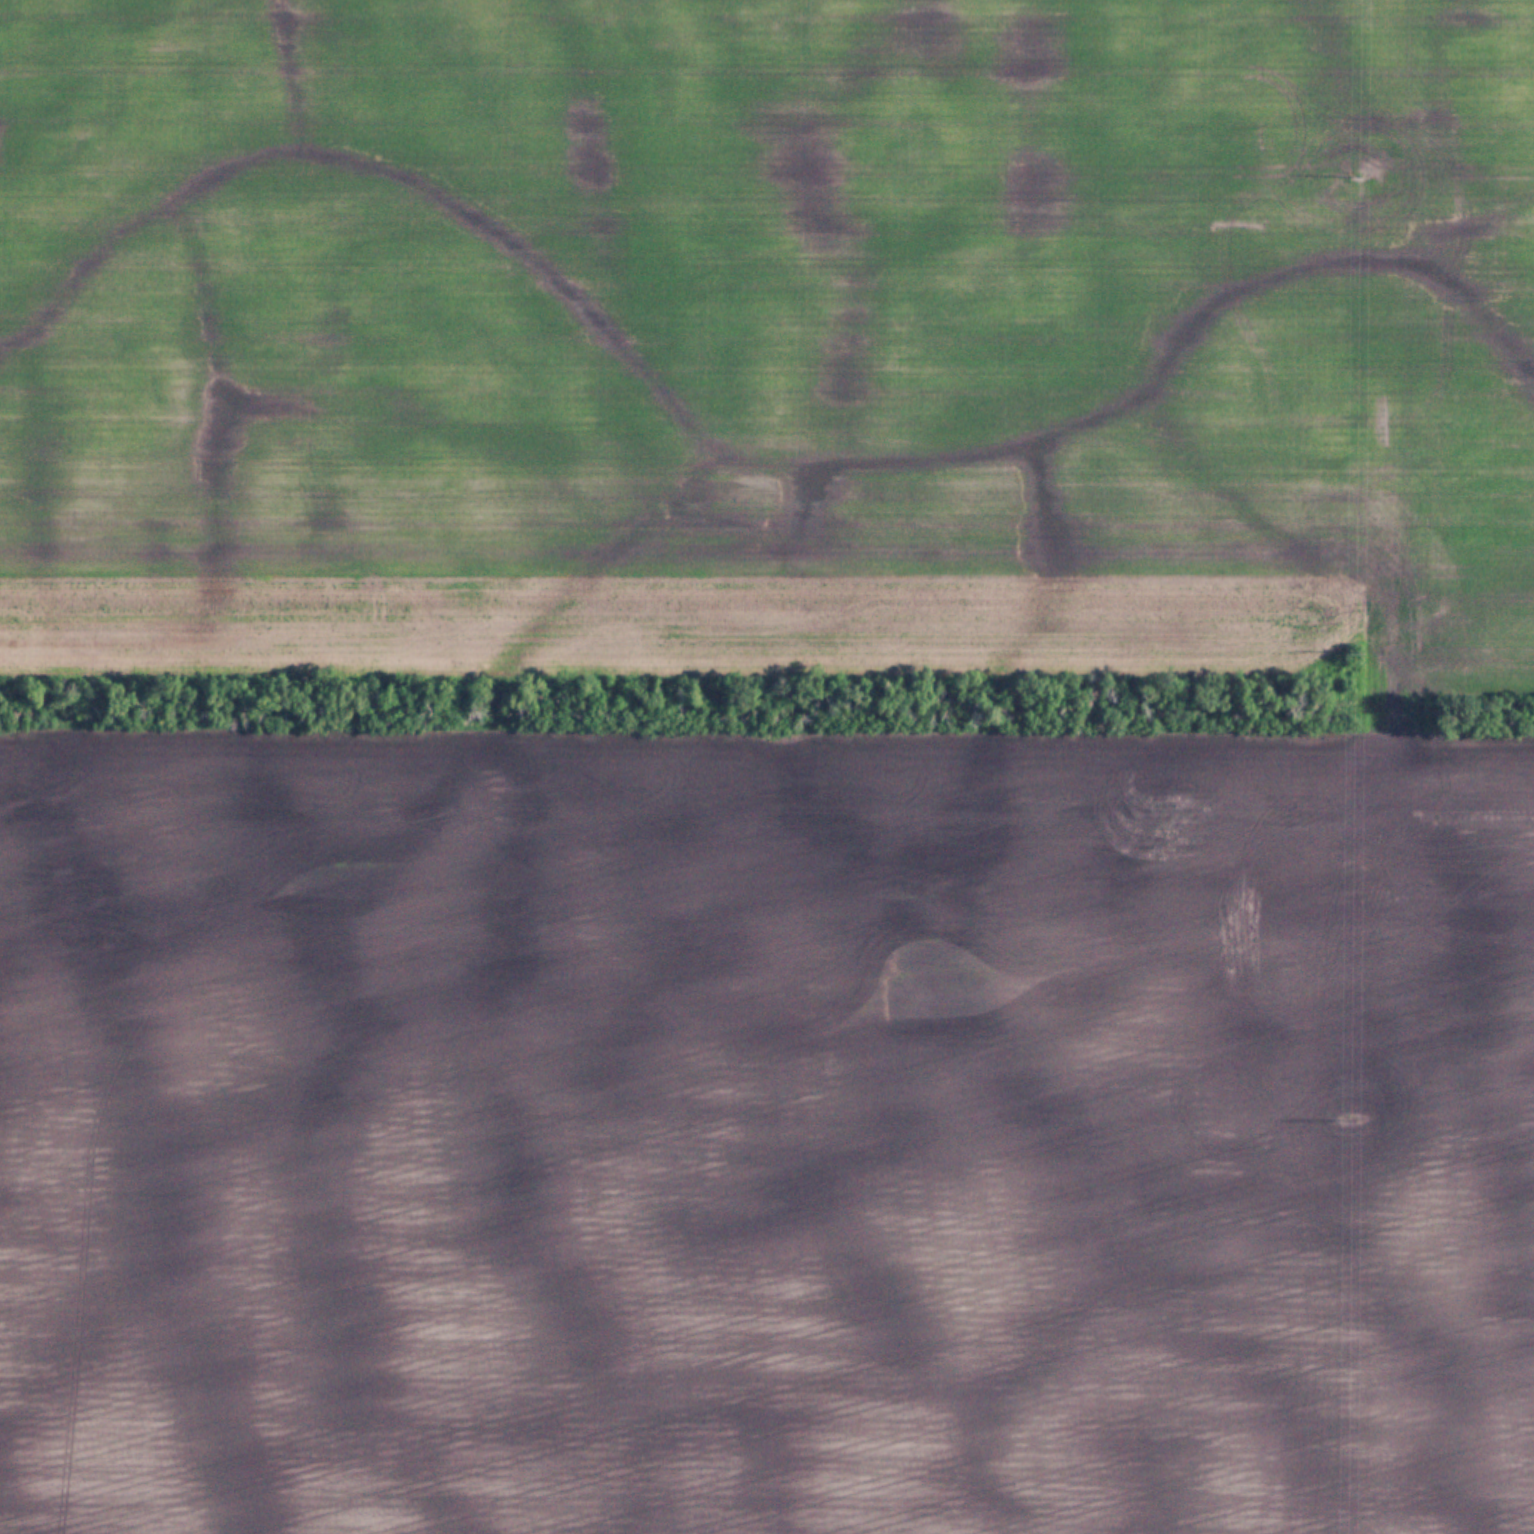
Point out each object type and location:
power tower: (1350, 176)
power tower: (1347, 651)
power tower: (1339, 1121)

